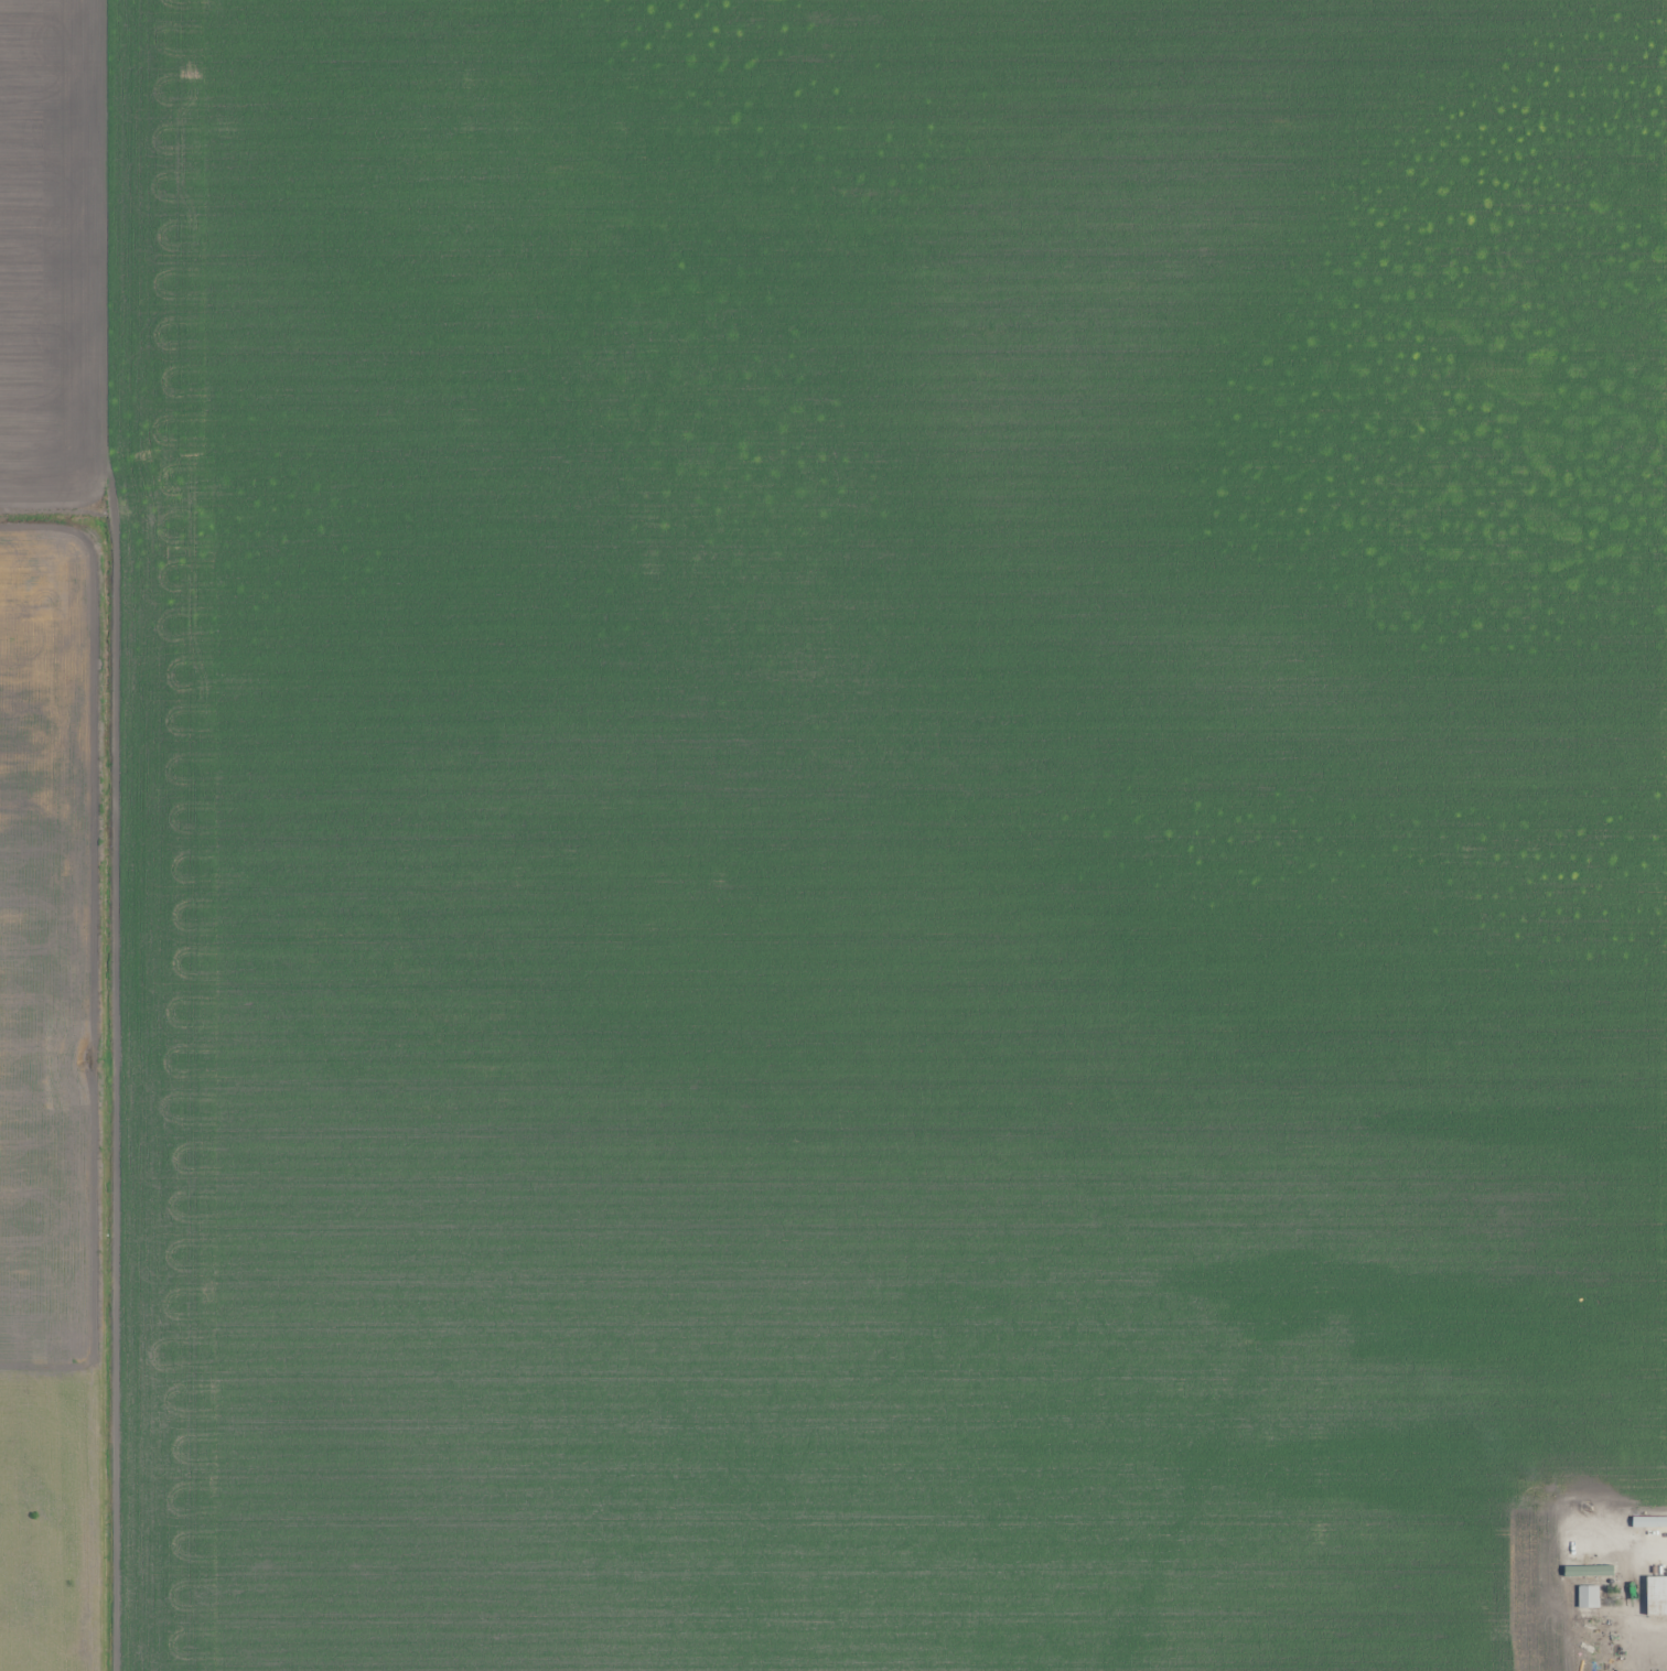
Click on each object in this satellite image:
building: (1657, 1595)
building: (1589, 1597)

